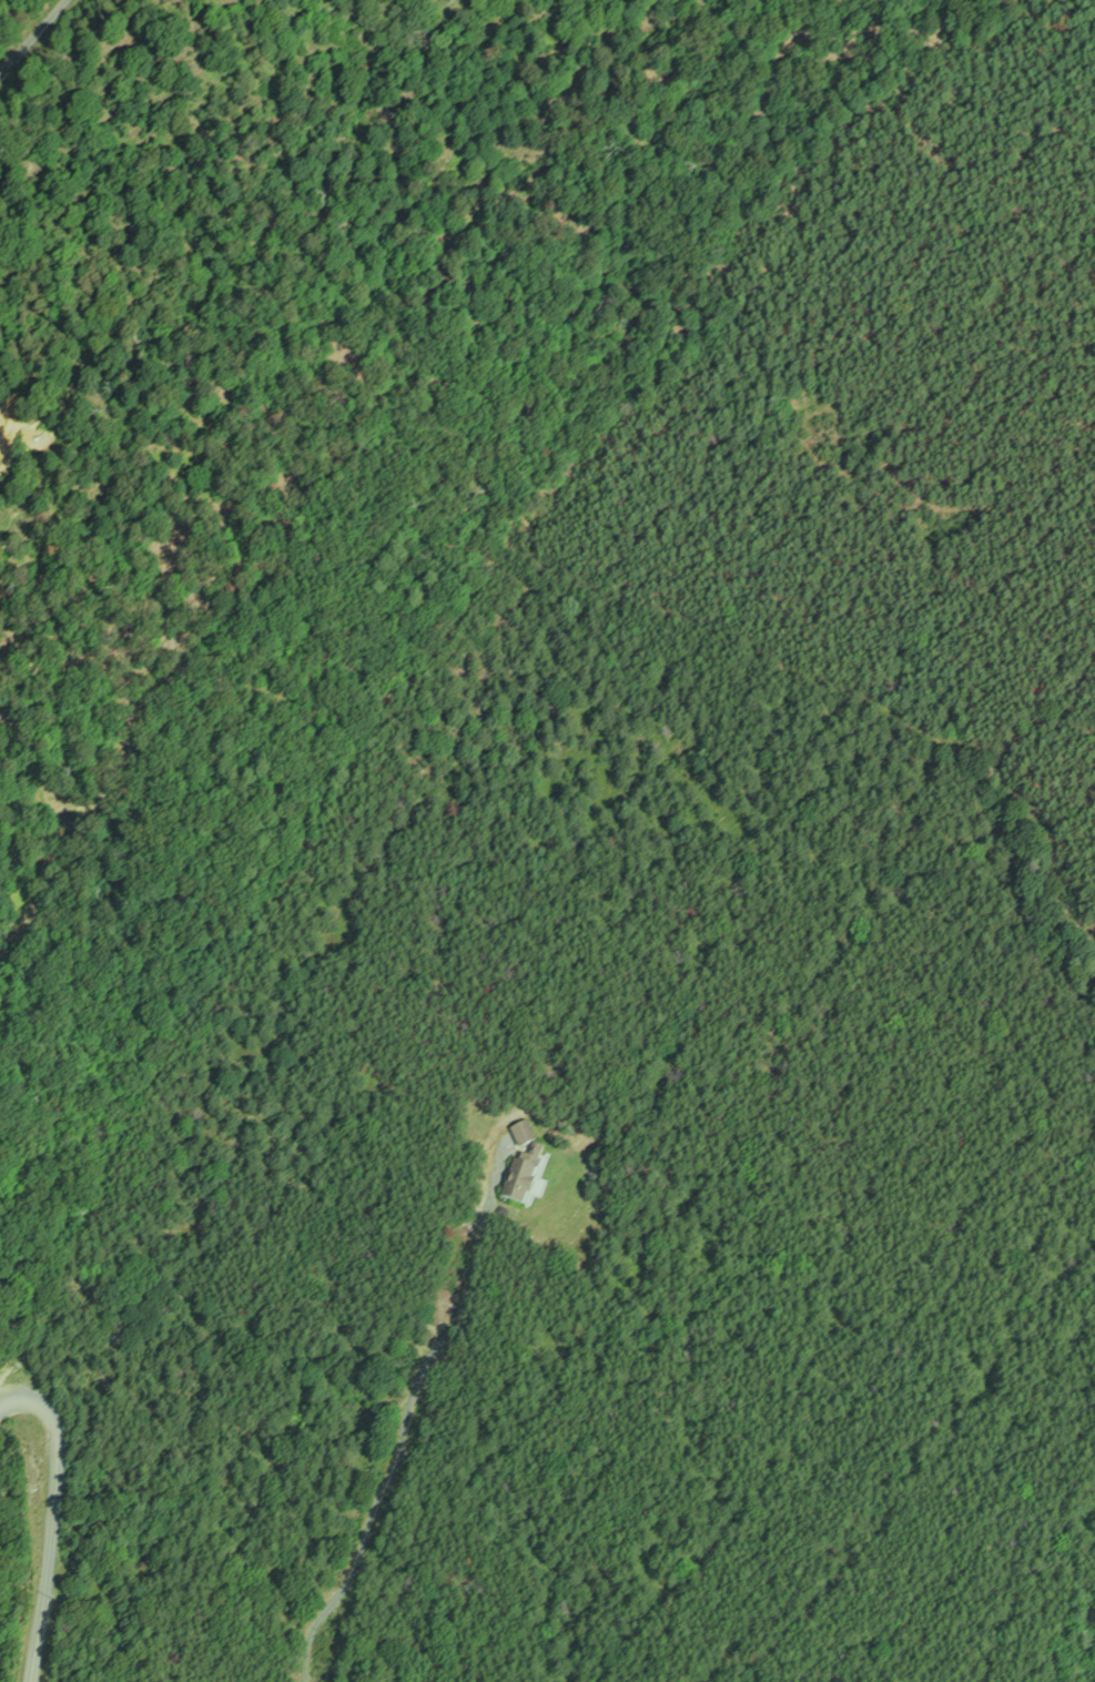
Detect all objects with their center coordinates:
road: (9, 12)
building: (526, 1135)
building: (525, 1183)
road: (393, 1451)
road: (54, 1518)

